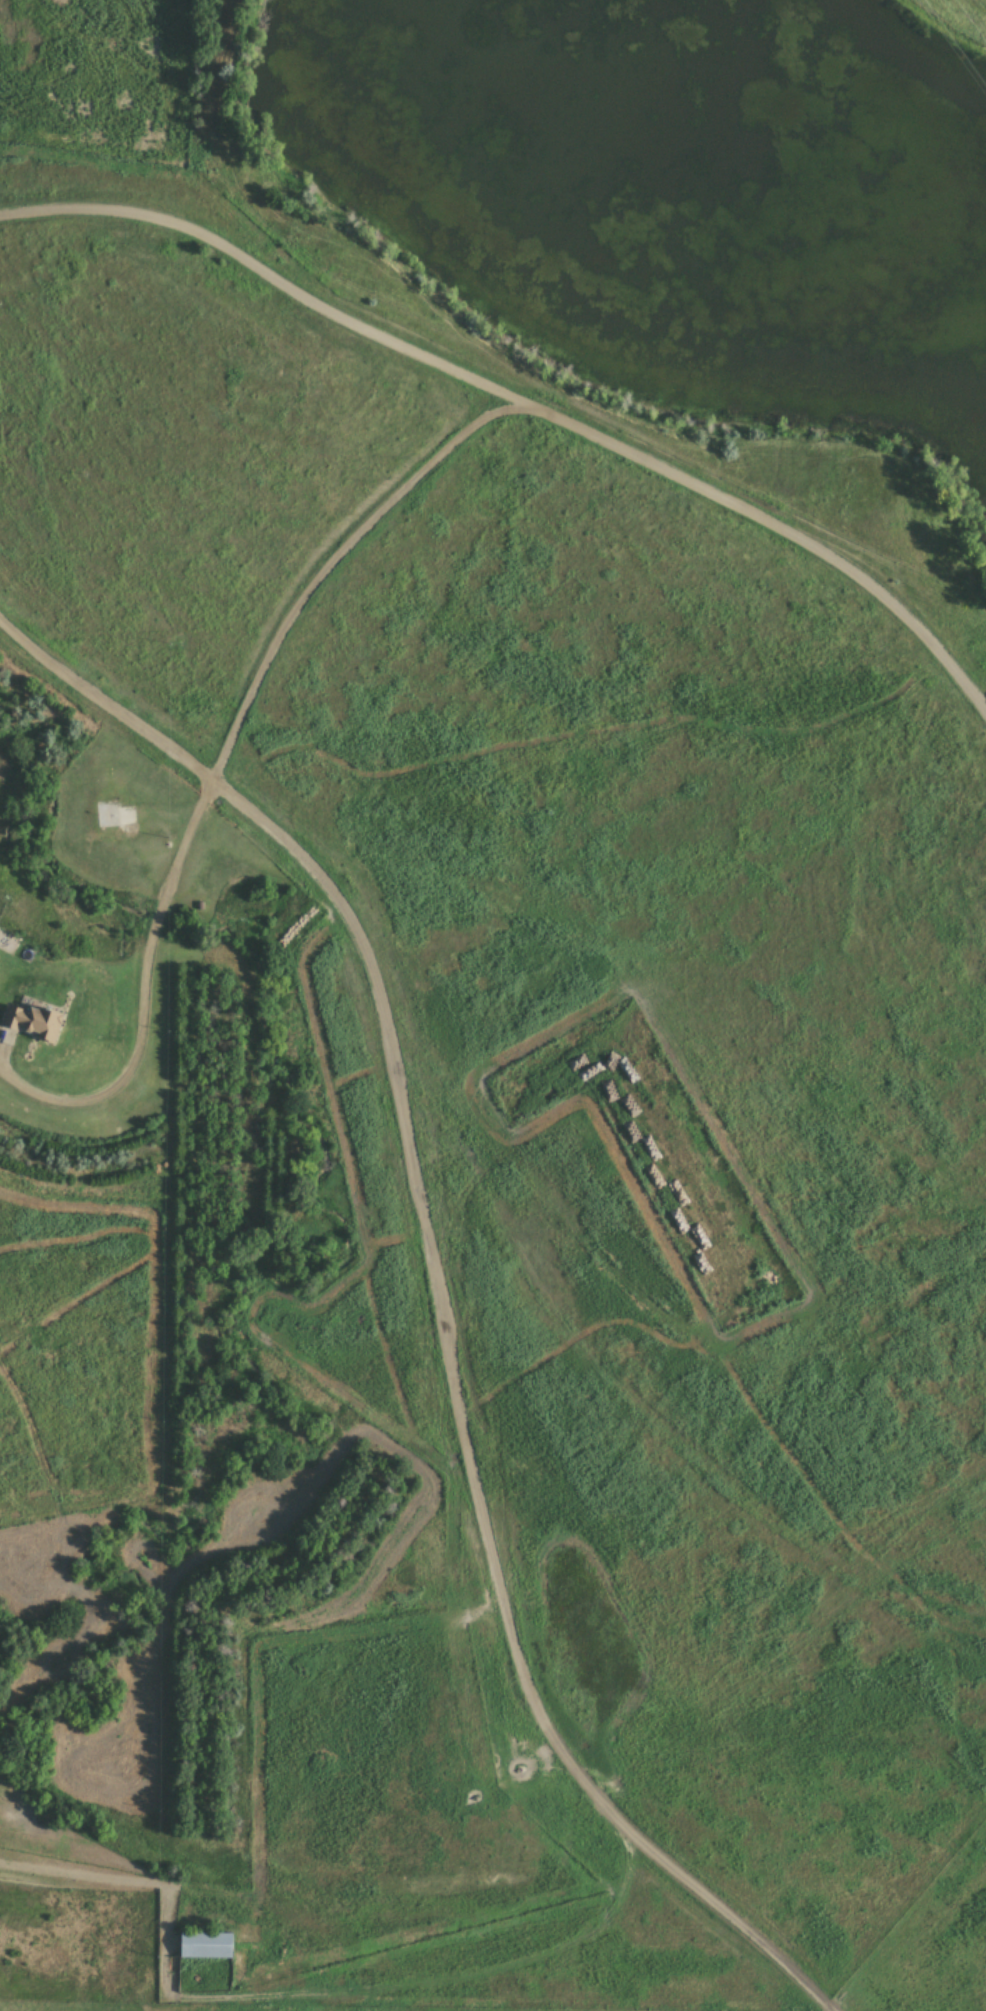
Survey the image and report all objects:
road: (521, 399)
building: (26, 1022)
building: (202, 1946)

